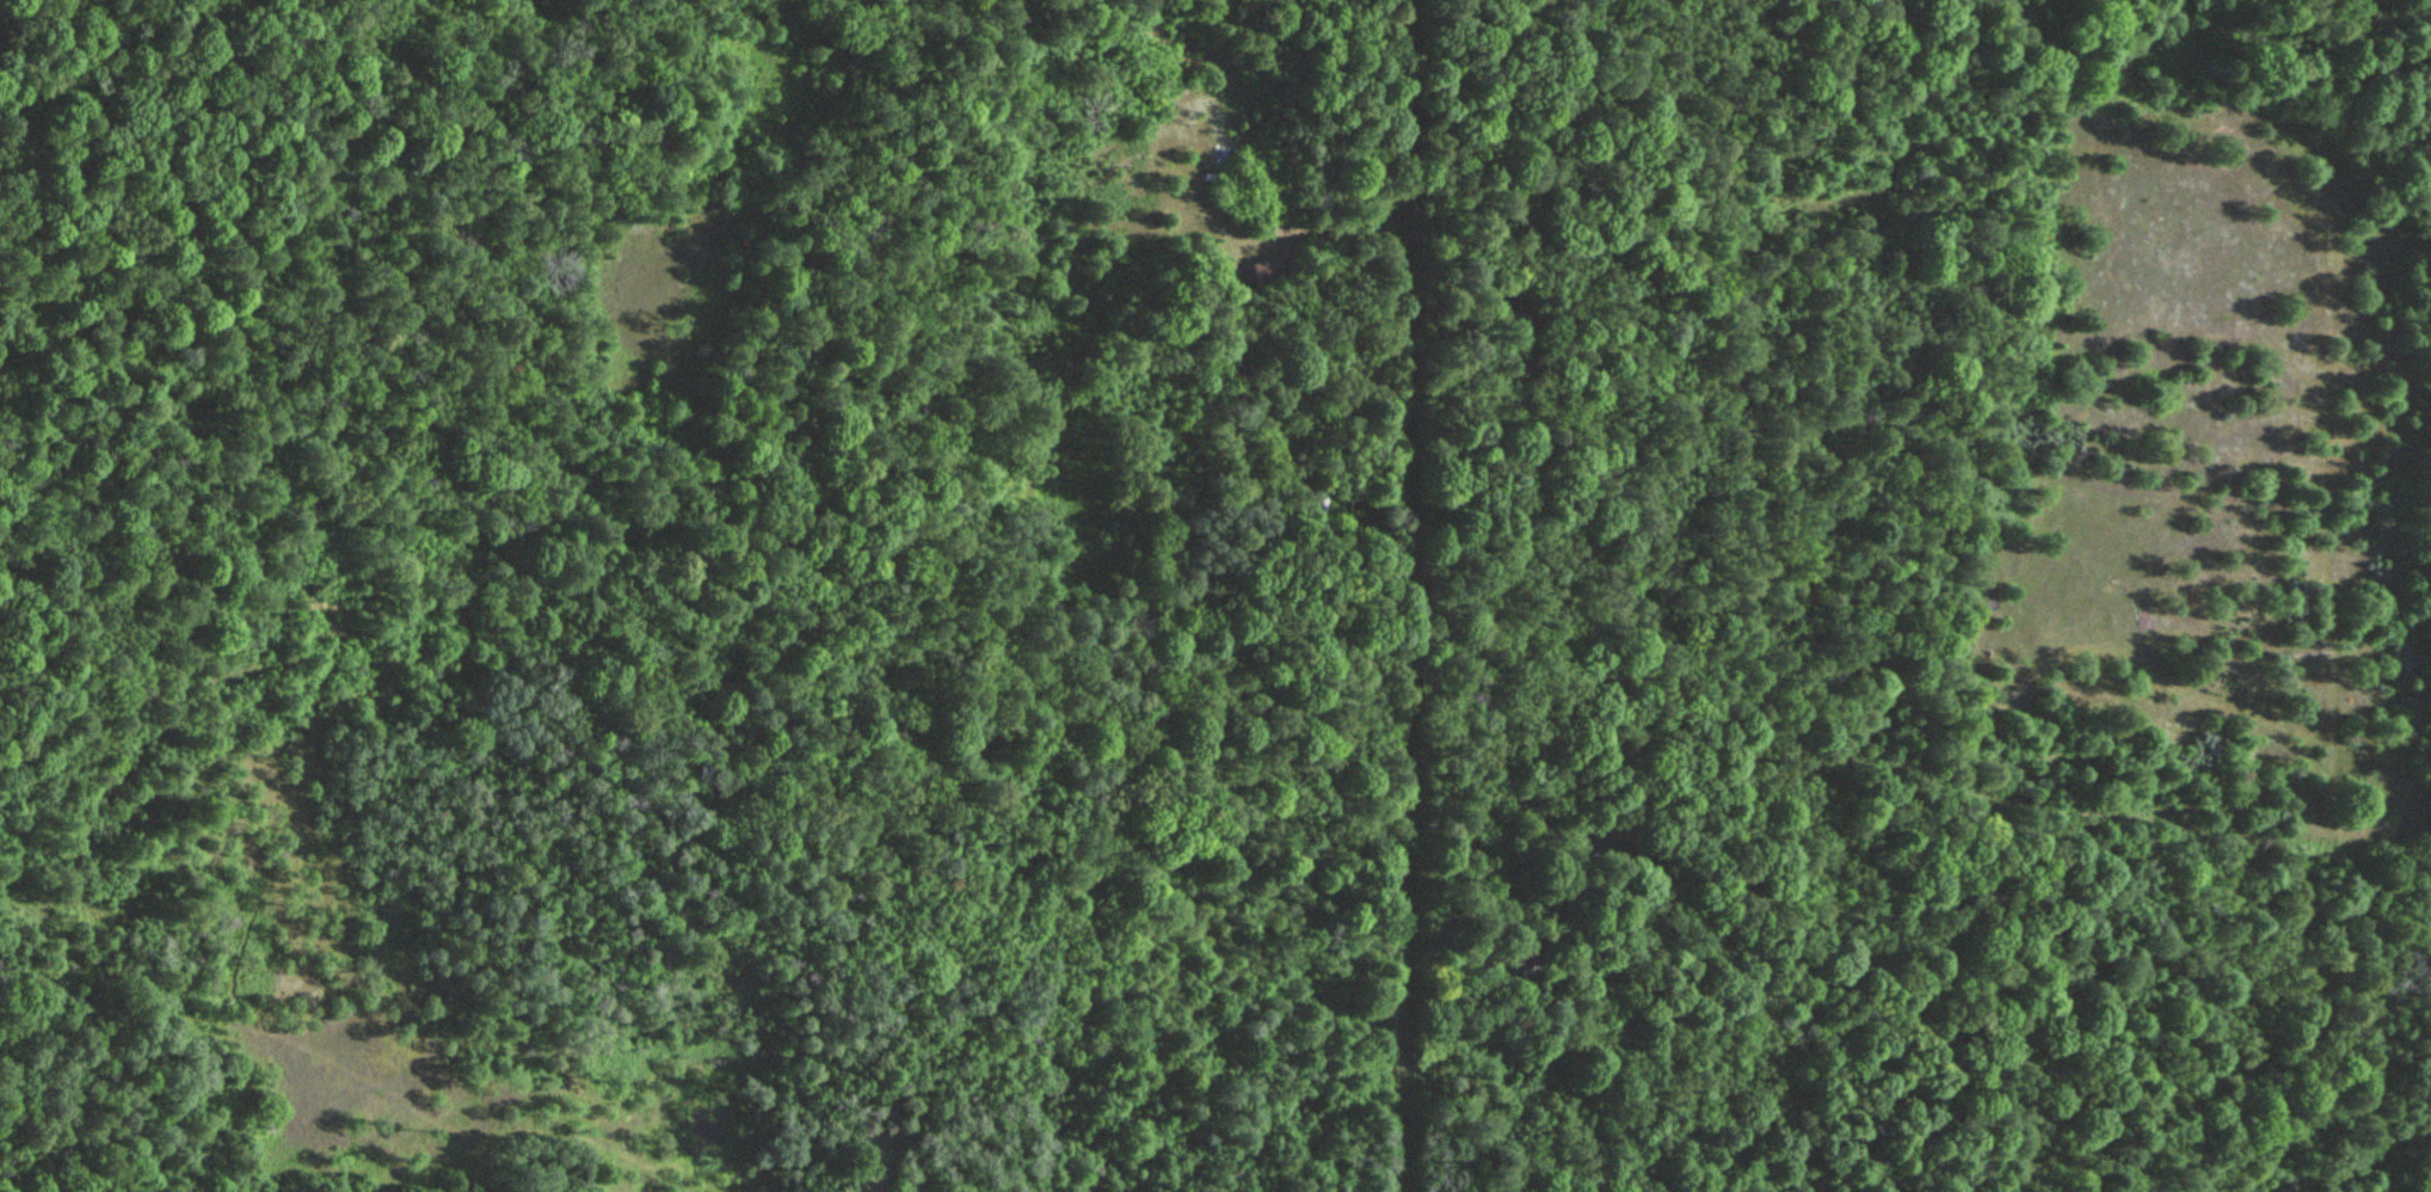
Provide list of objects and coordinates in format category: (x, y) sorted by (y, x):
building: (1267, 271)
road: (1405, 595)

